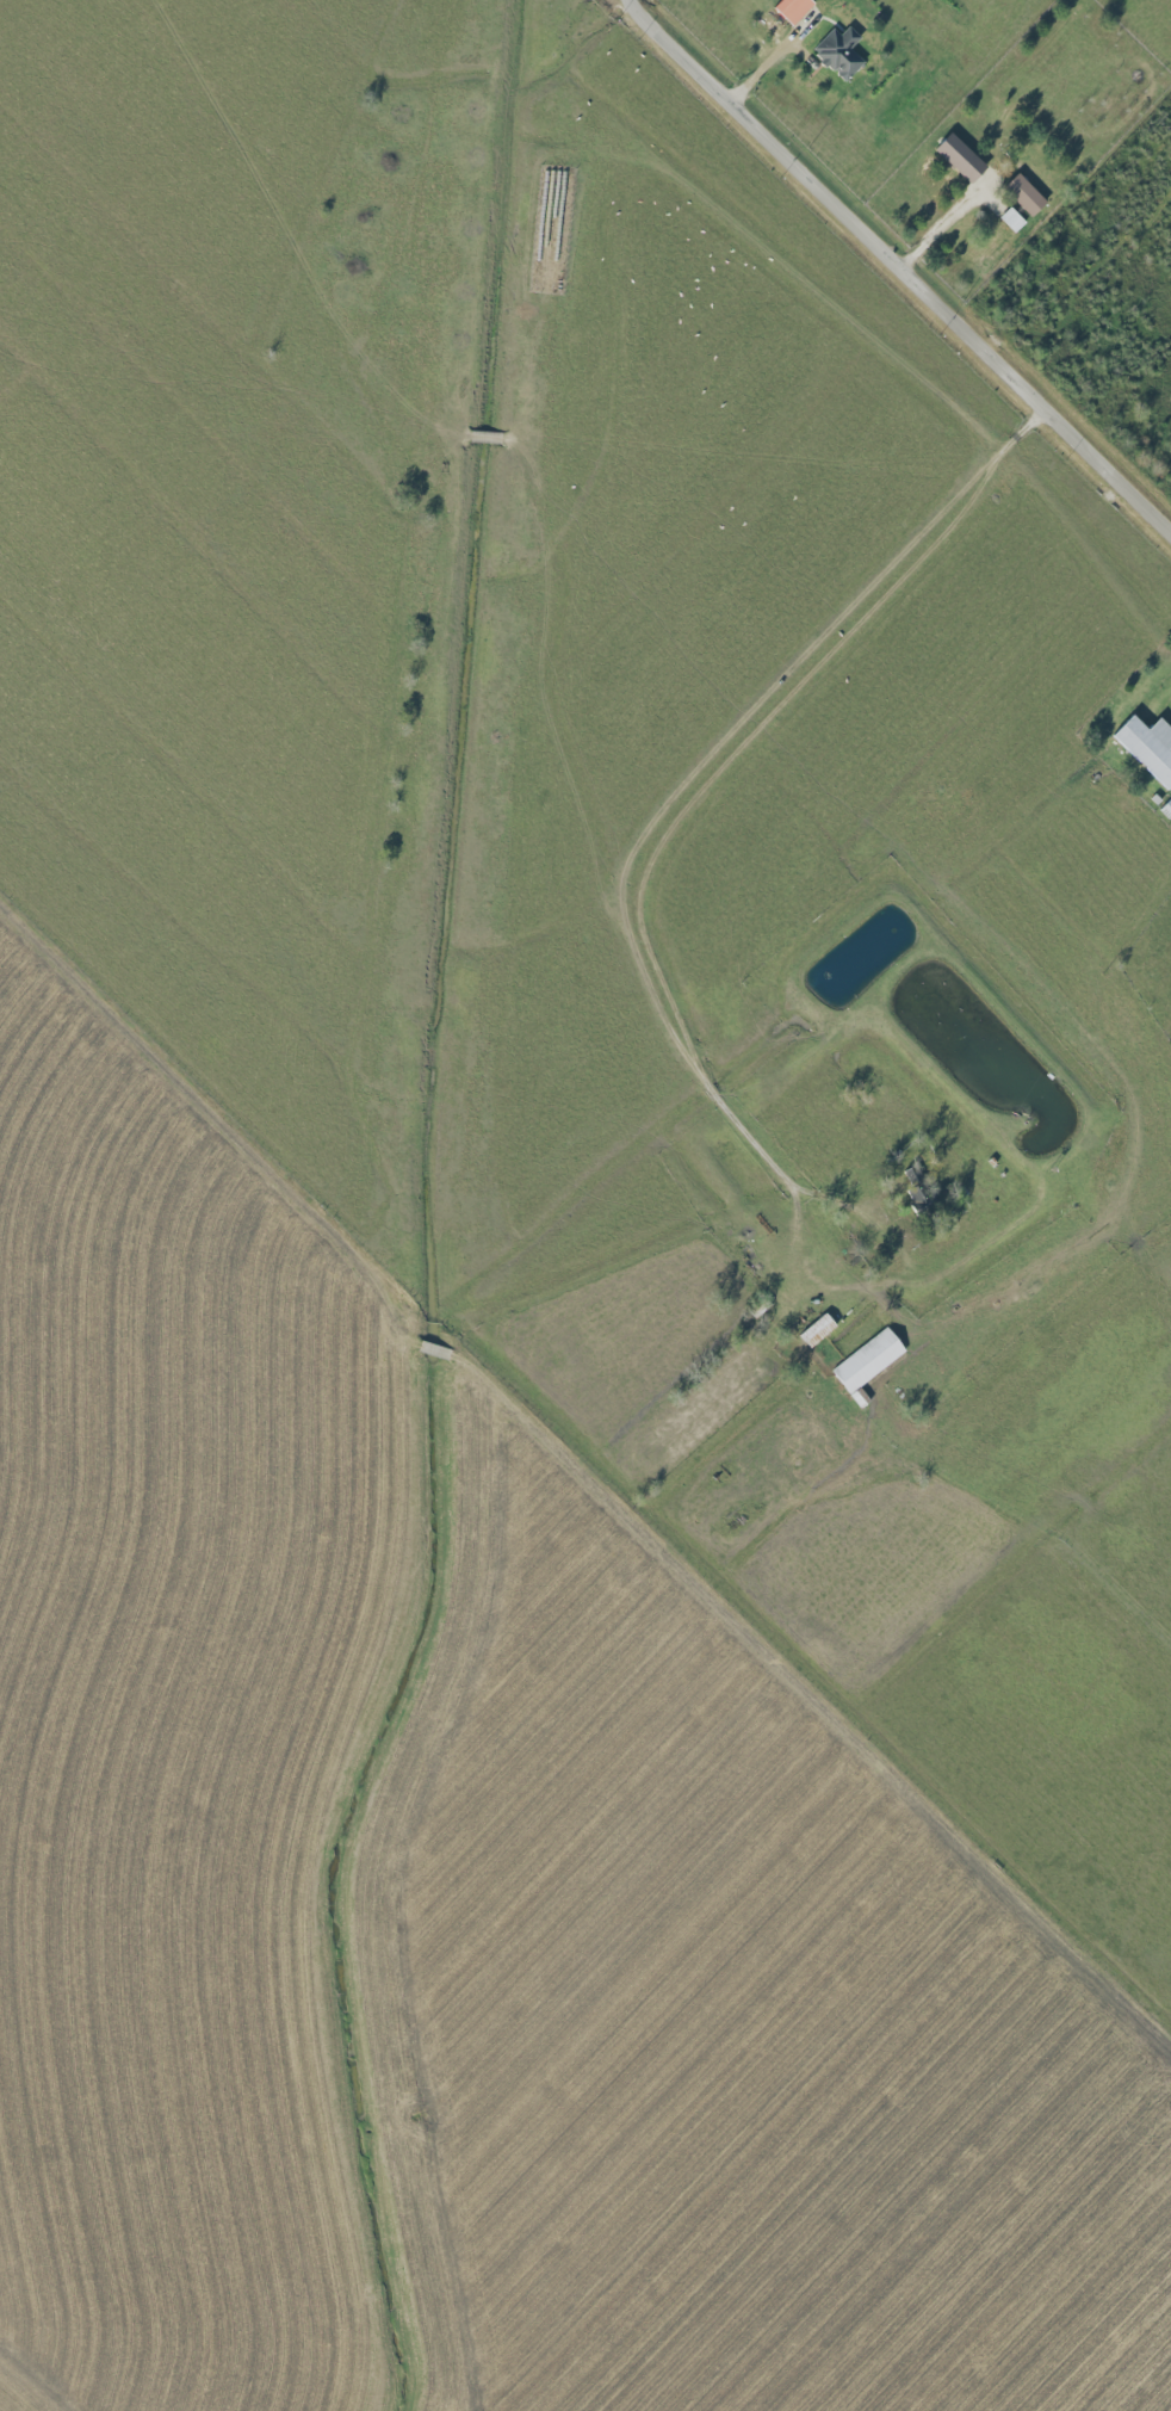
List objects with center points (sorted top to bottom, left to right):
building: (794, 8)
building: (841, 51)
building: (961, 157)
building: (1026, 194)
road: (943, 225)
road: (904, 262)
building: (1150, 747)
road: (643, 878)
building: (818, 1329)
building: (868, 1360)
road: (508, 1463)

